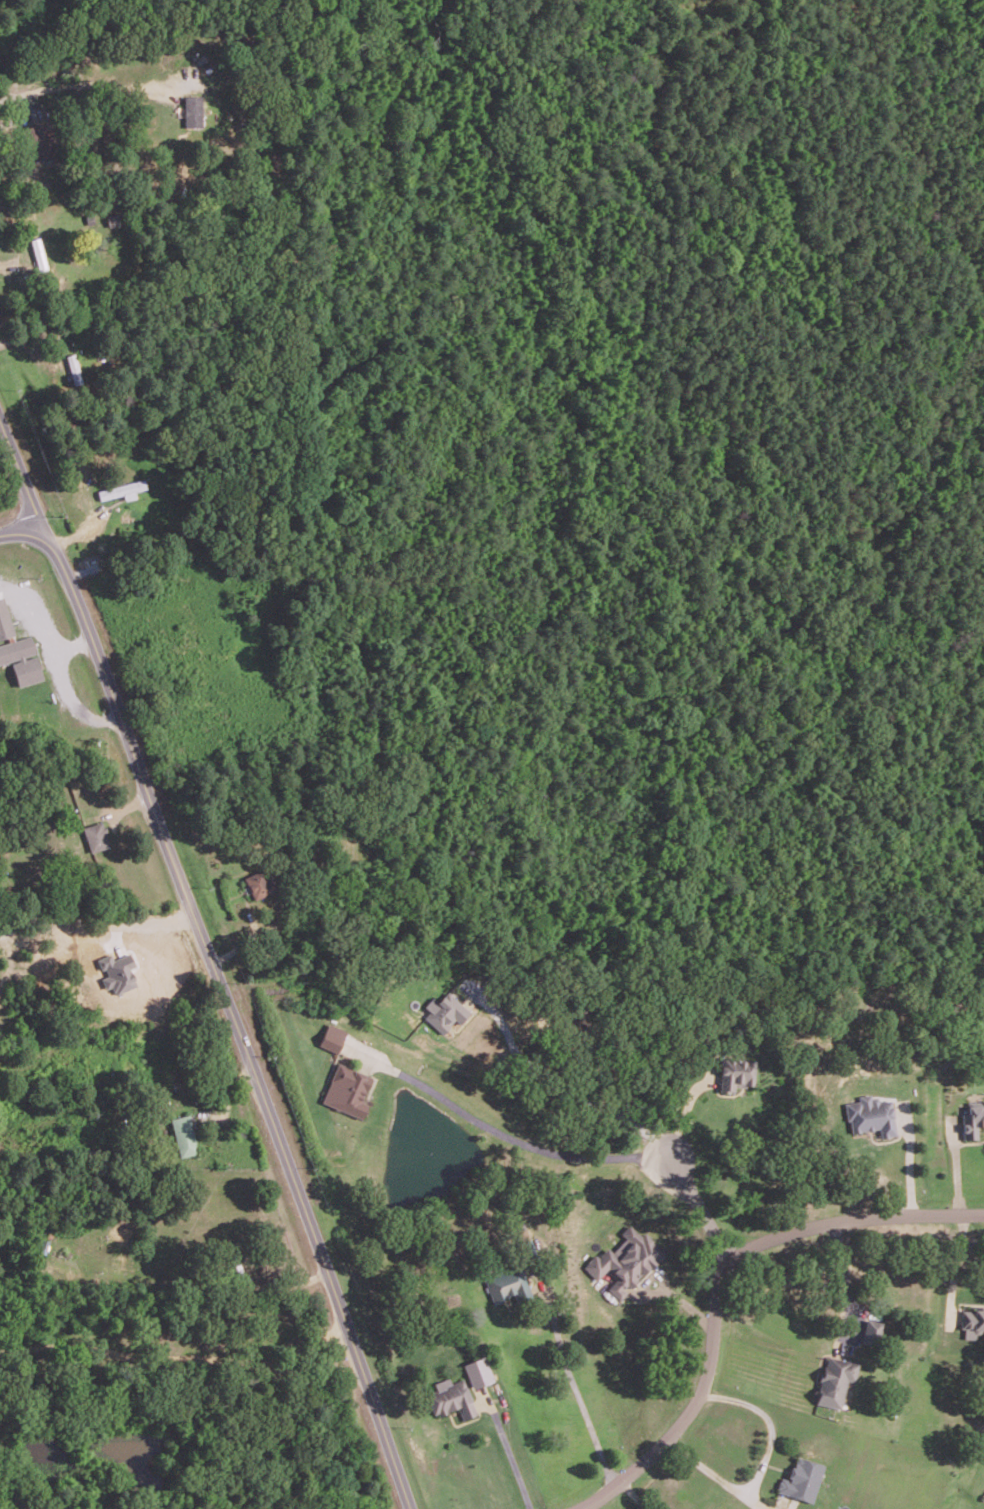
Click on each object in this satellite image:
road: (84, 90)
building: (192, 111)
building: (112, 218)
building: (38, 255)
building: (73, 368)
road: (22, 474)
building: (121, 490)
road: (16, 531)
building: (4, 621)
road: (73, 647)
road: (54, 658)
building: (21, 659)
building: (96, 836)
building: (260, 884)
building: (117, 972)
building: (445, 1011)
road: (232, 1014)
building: (333, 1037)
road: (588, 1069)
building: (736, 1073)
building: (347, 1090)
road: (681, 1108)
building: (870, 1115)
building: (973, 1119)
road: (499, 1131)
building: (183, 1135)
road: (908, 1174)
road: (704, 1211)
building: (626, 1260)
road: (958, 1269)
road: (846, 1282)
building: (508, 1284)
road: (209, 1286)
road: (723, 1287)
building: (973, 1323)
building: (864, 1331)
road: (177, 1356)
building: (477, 1372)
building: (835, 1380)
road: (581, 1397)
building: (451, 1400)
road: (506, 1450)
road: (762, 1468)
building: (802, 1479)
road: (629, 1497)

